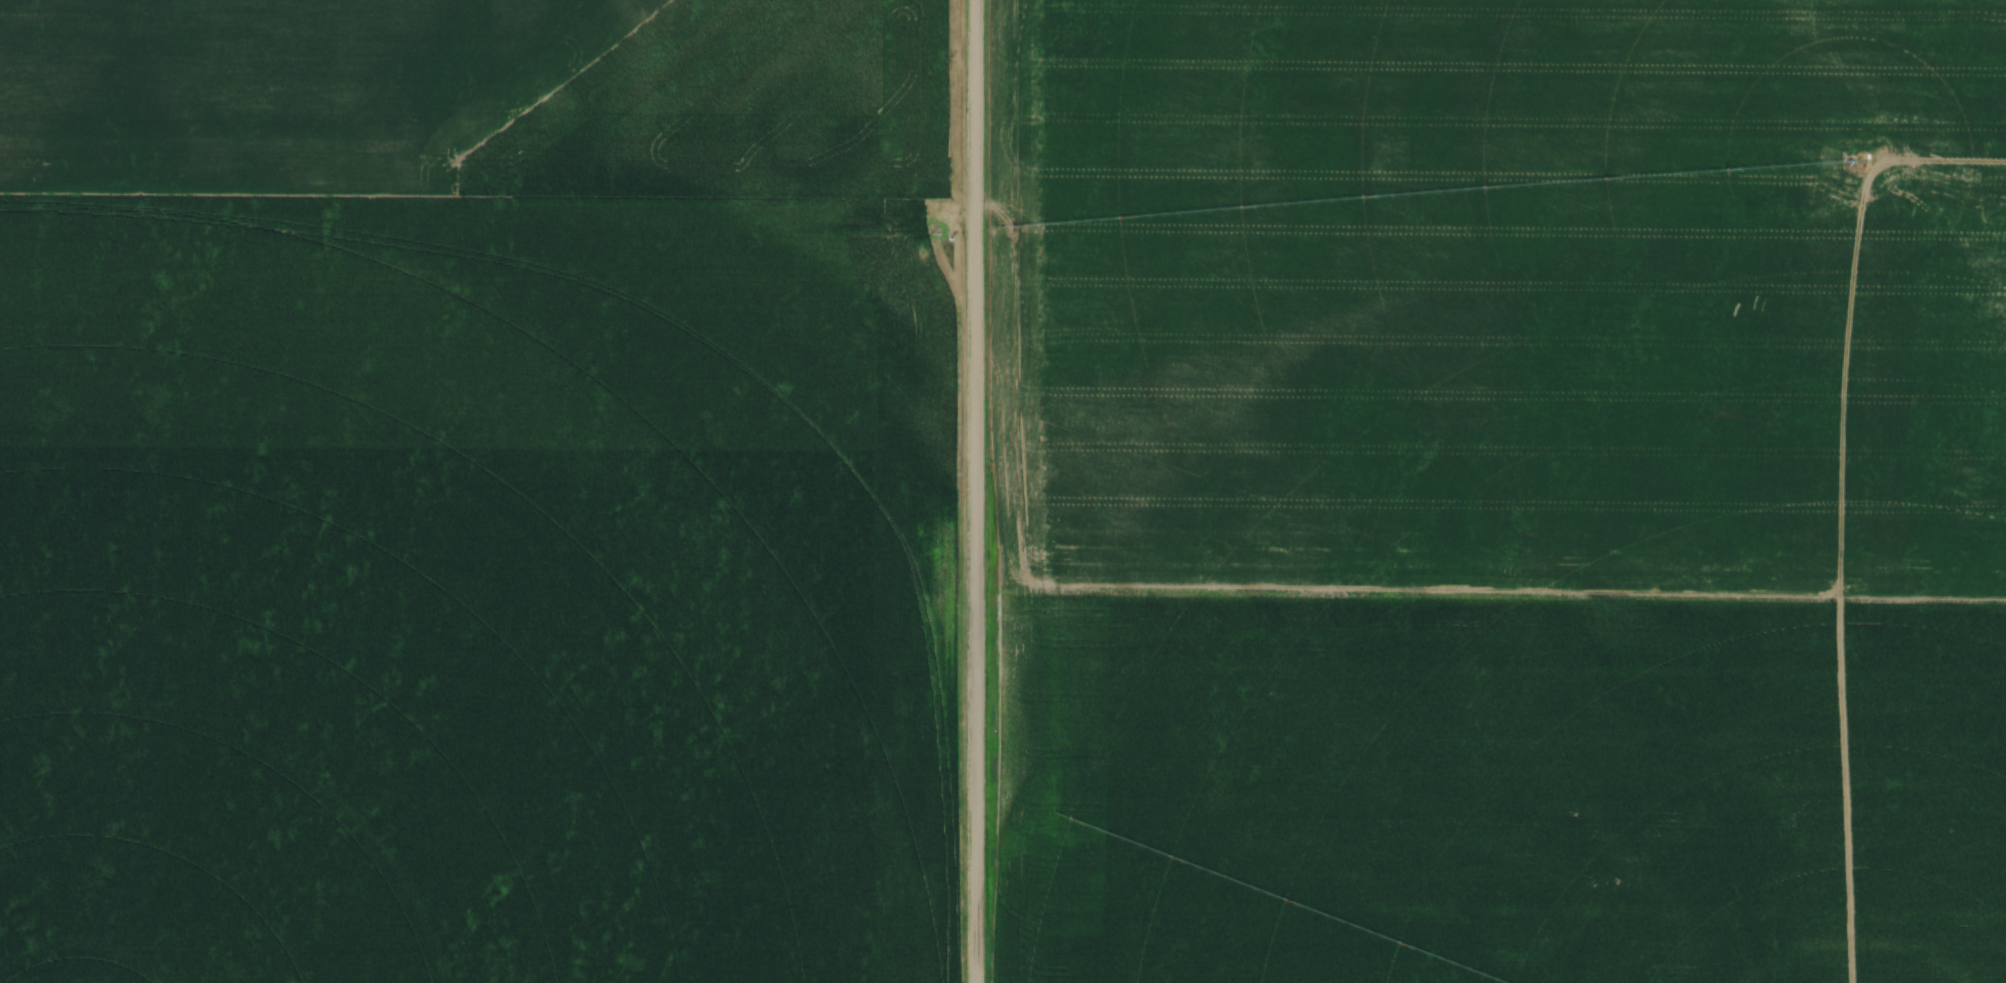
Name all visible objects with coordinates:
road: (975, 491)

